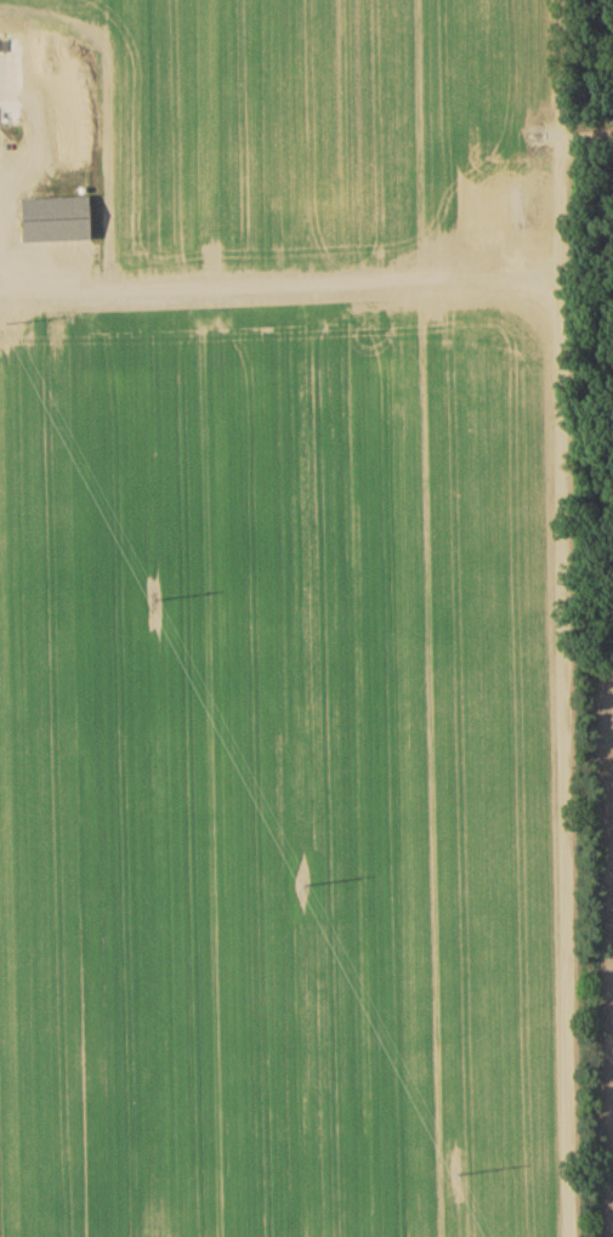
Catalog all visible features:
building: (59, 222)
road: (560, 484)

